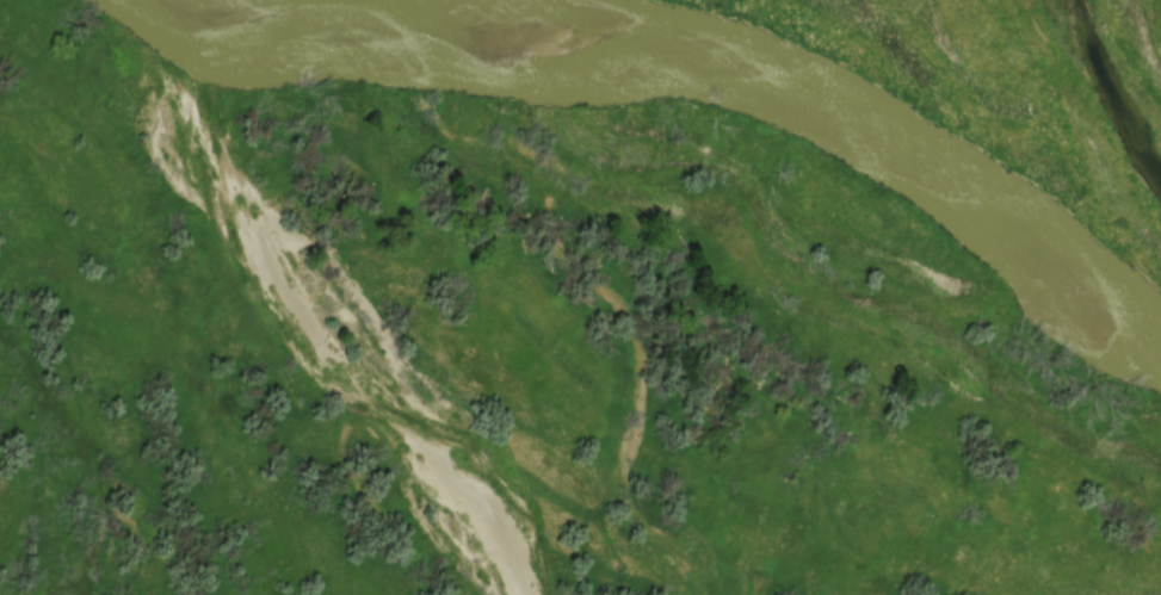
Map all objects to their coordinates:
river: (696, 67)

